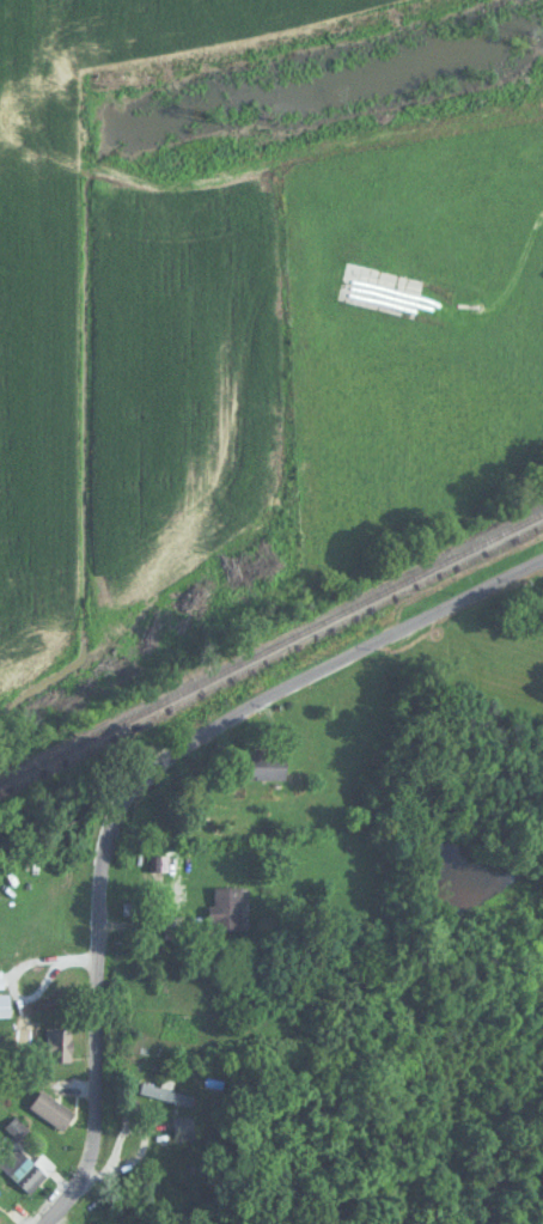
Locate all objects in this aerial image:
road: (456, 598)
railway: (270, 641)
railway: (270, 658)
building: (270, 765)
building: (164, 861)
road: (99, 866)
building: (222, 906)
building: (2, 1003)
building: (57, 1042)
building: (164, 1091)
building: (50, 1108)
building: (16, 1126)
building: (24, 1167)

